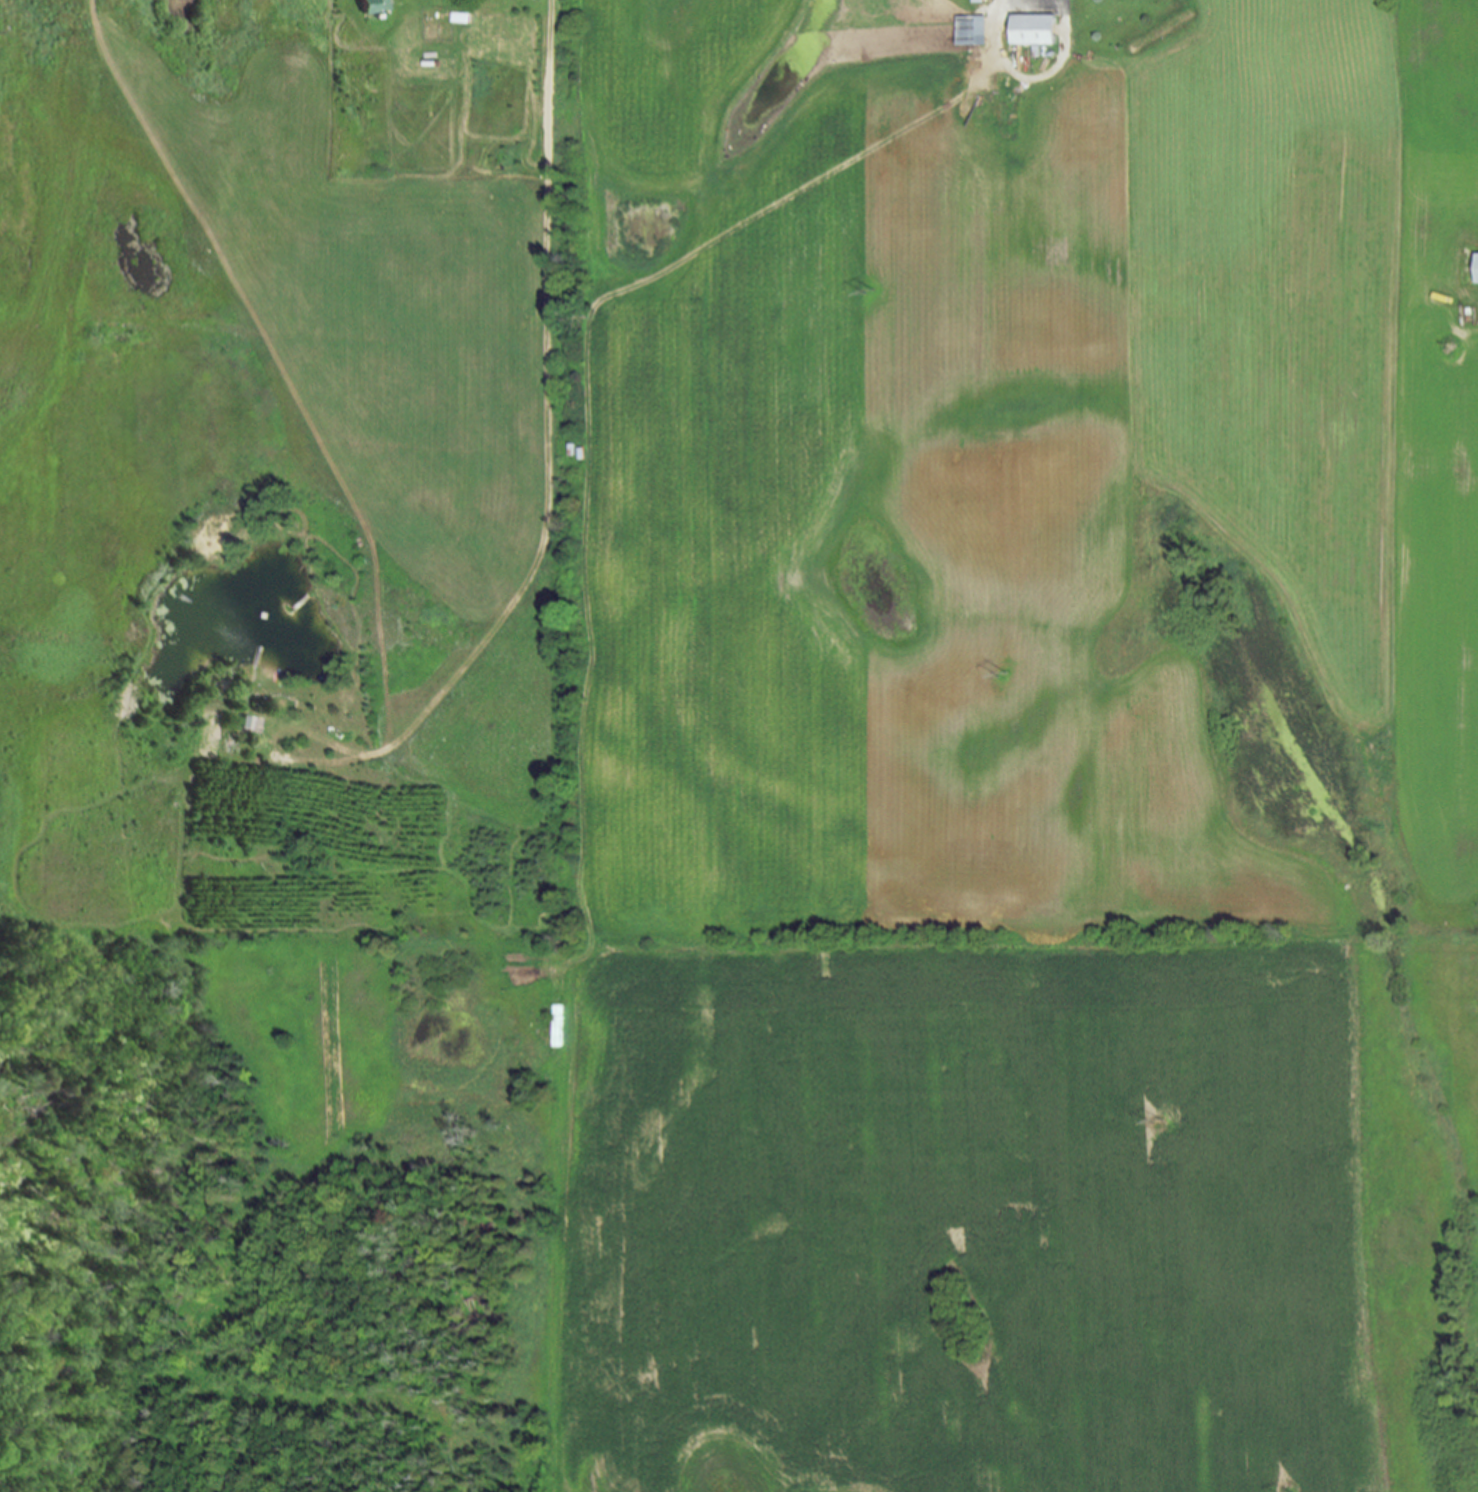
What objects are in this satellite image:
building: (368, 6)
building: (970, 30)
building: (1032, 30)
building: (1475, 267)
power tower: (867, 293)
road: (551, 413)
power tower: (1002, 678)
power tower: (1156, 1120)

